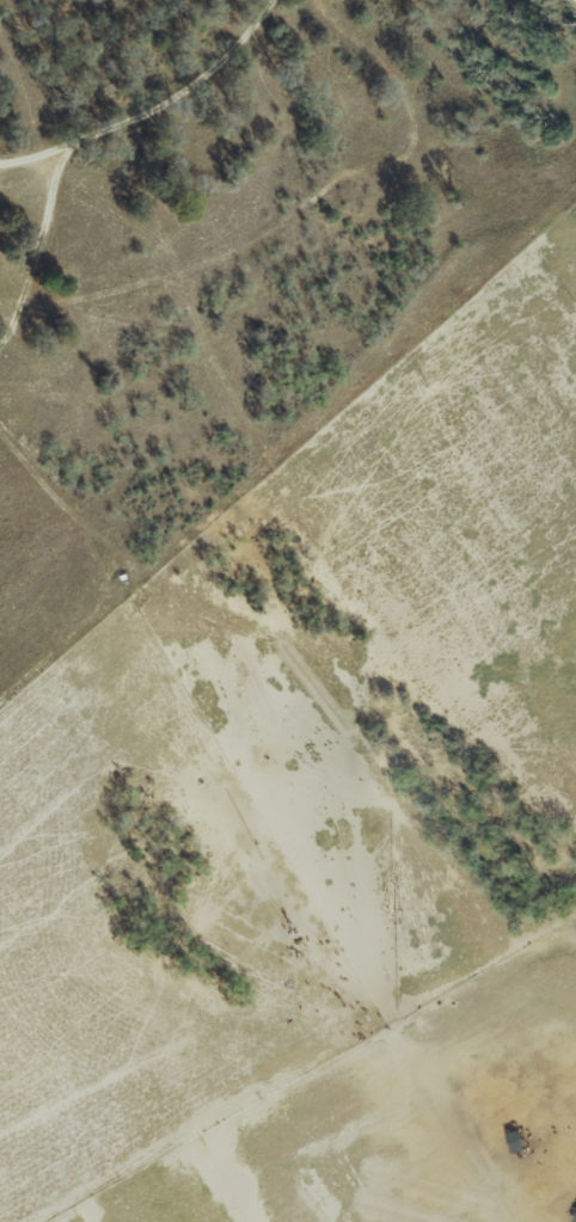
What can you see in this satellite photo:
road: (151, 106)
road: (37, 244)

